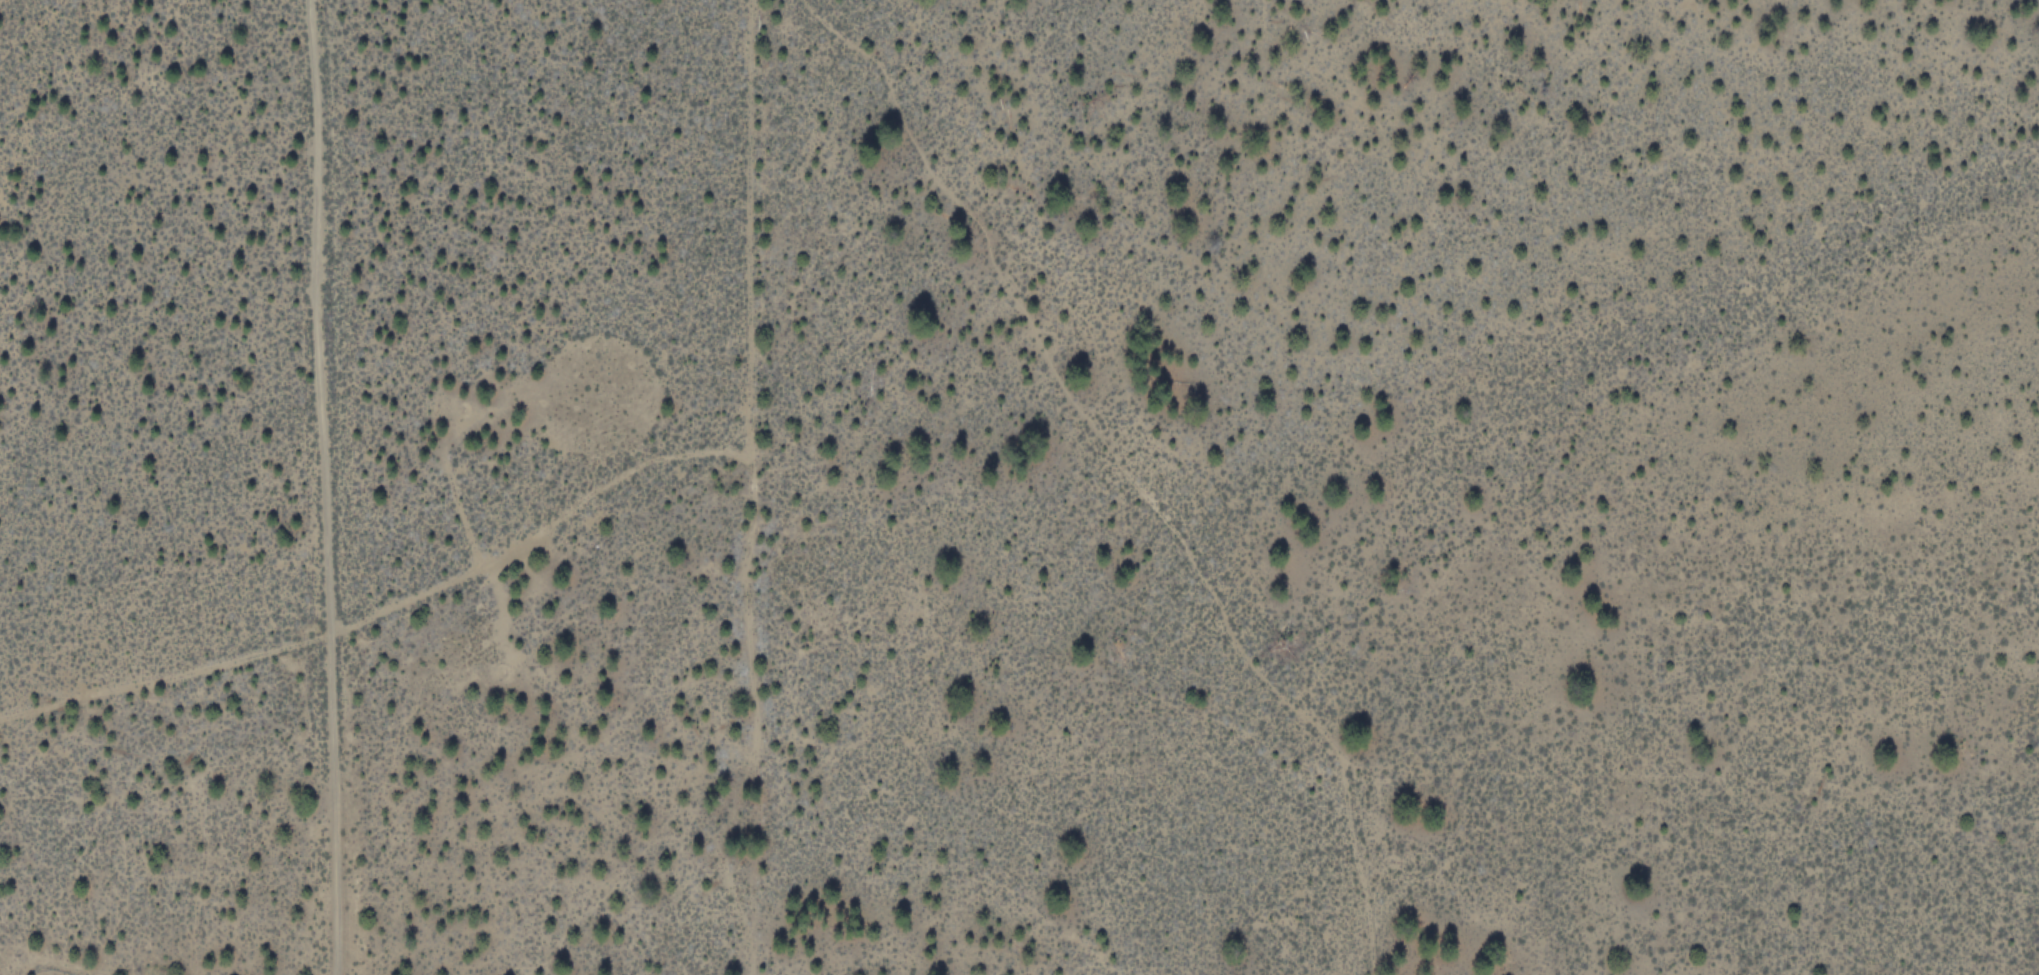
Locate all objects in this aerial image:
road: (318, 487)

